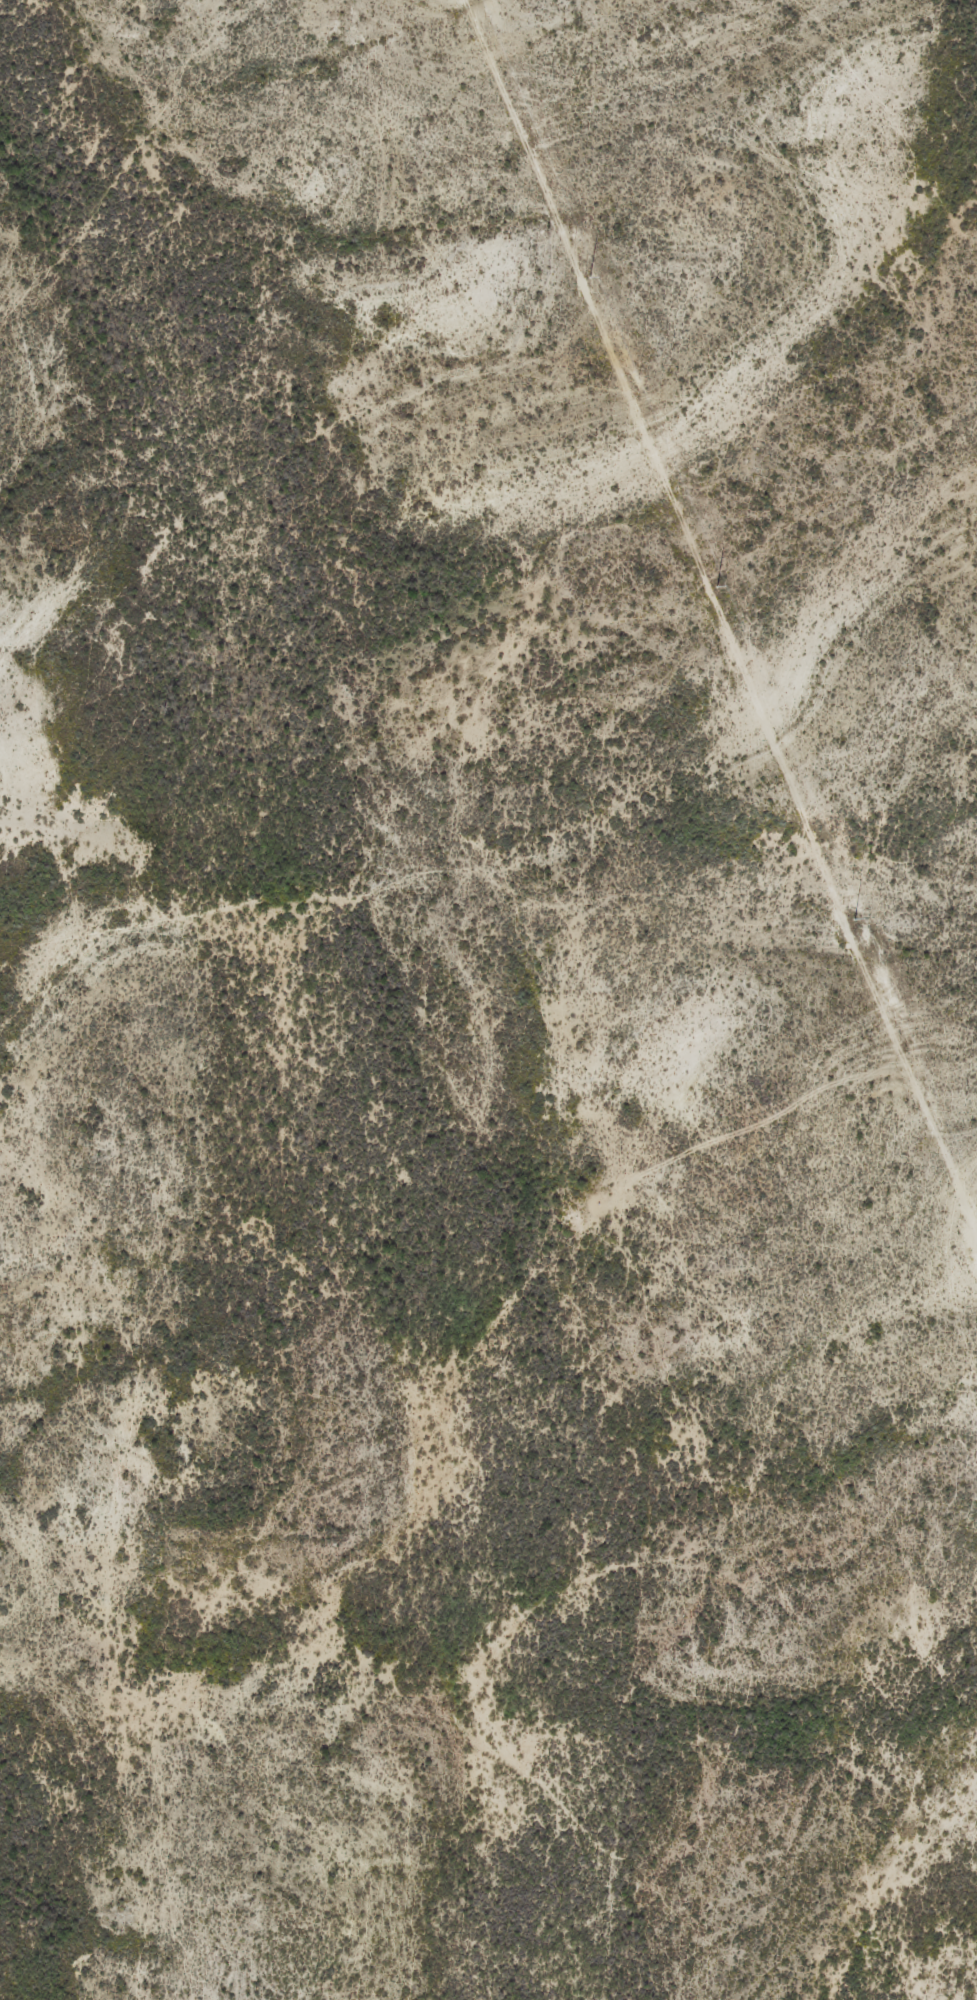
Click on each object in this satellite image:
power tower: (592, 276)
power tower: (718, 585)
power tower: (854, 918)

